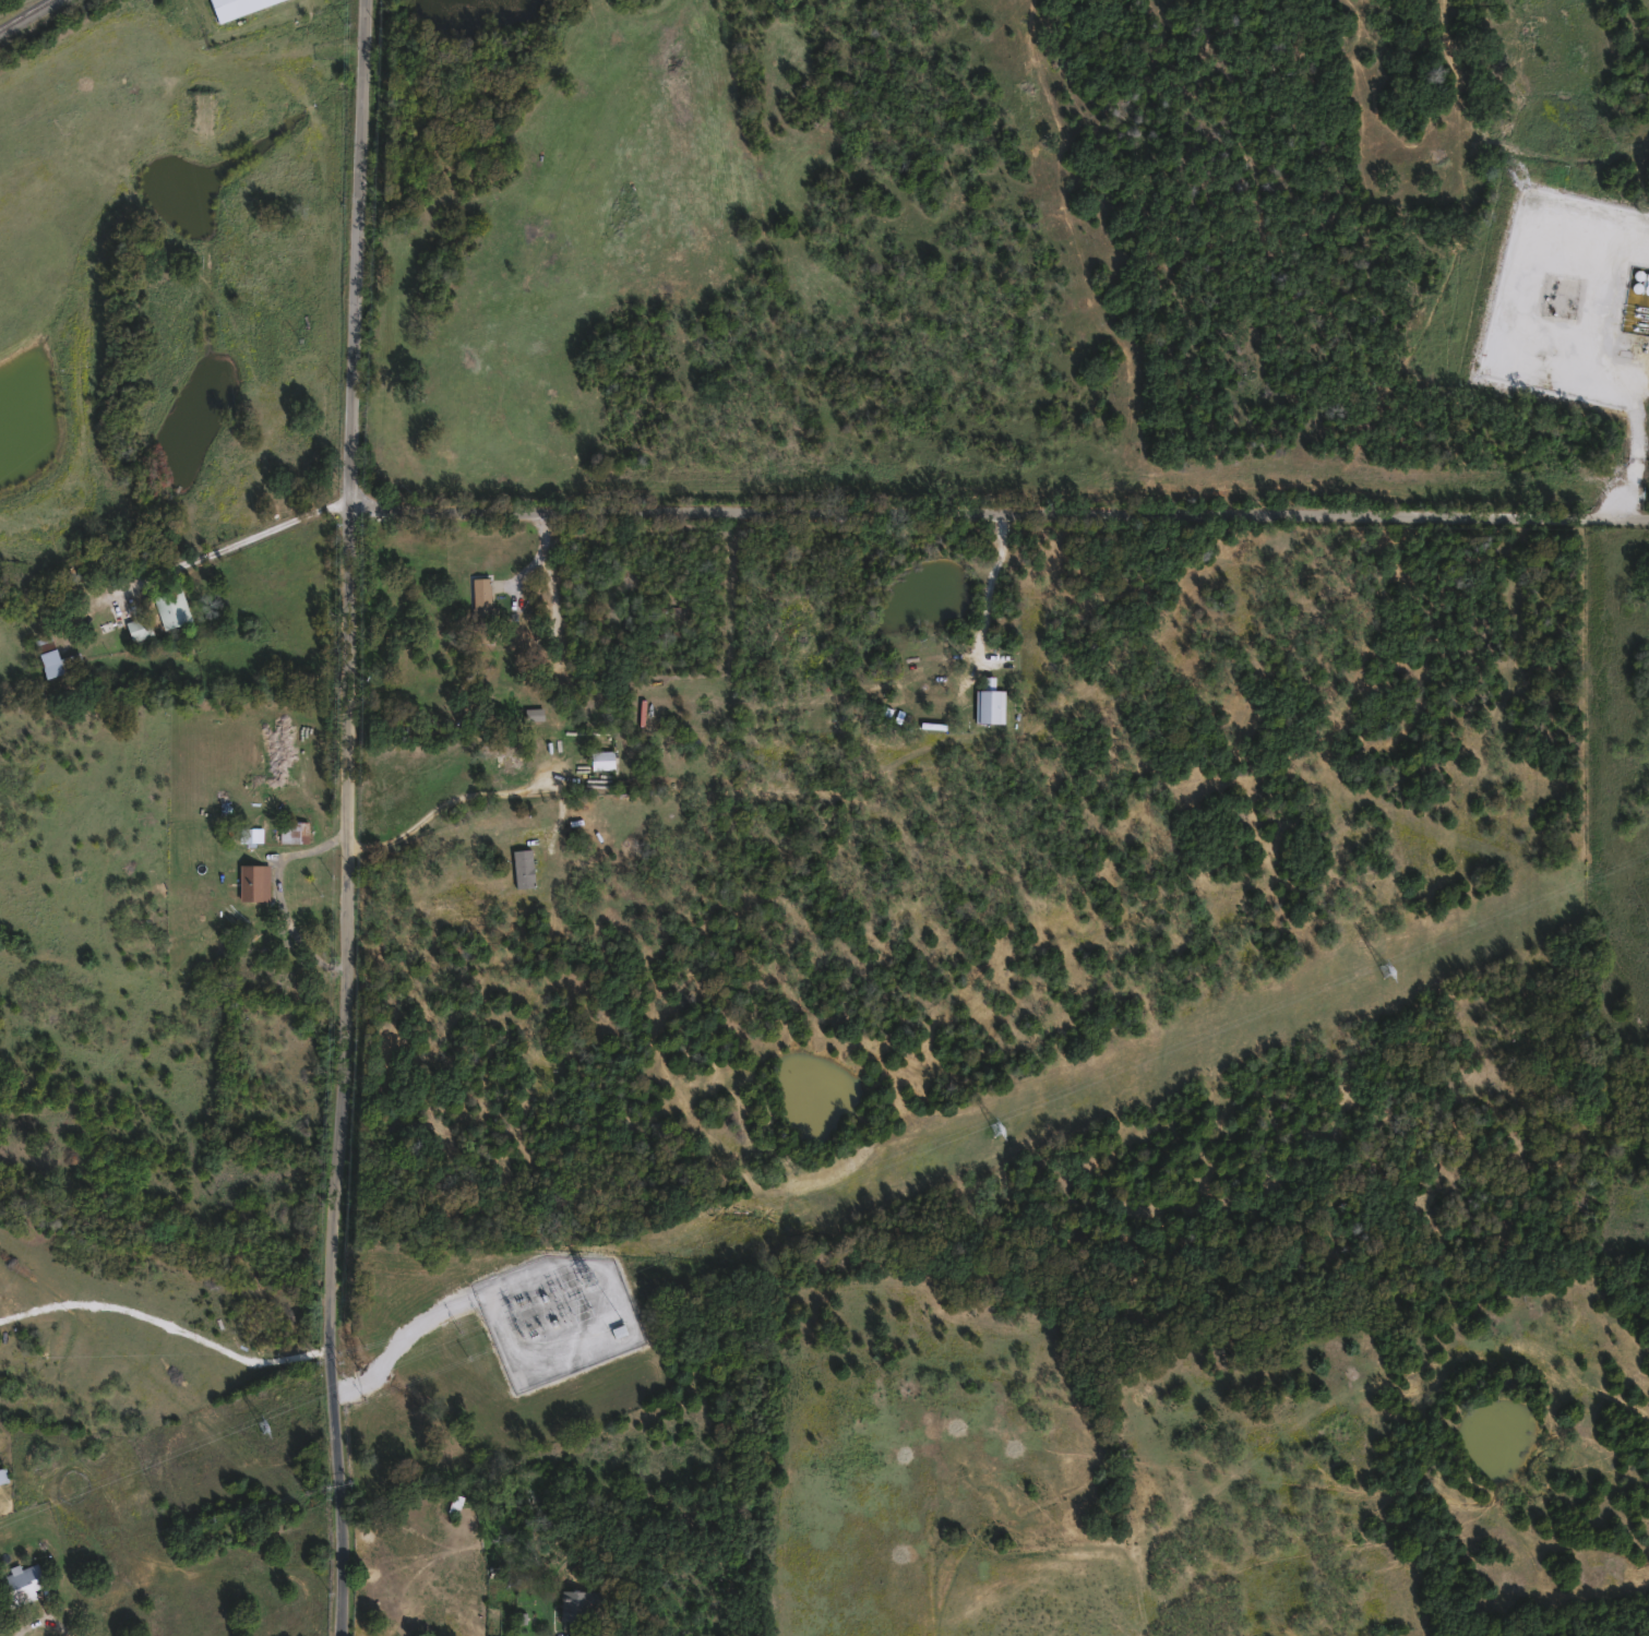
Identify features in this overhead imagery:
building: (238, 7)
railway: (22, 12)
building: (1565, 220)
road: (1002, 510)
road: (249, 538)
road: (539, 557)
road: (993, 586)
building: (482, 597)
building: (174, 608)
building: (141, 628)
building: (53, 656)
building: (503, 753)
building: (604, 759)
road: (454, 795)
road: (354, 817)
building: (296, 831)
building: (249, 835)
building: (525, 867)
building: (255, 881)
power tower: (1386, 968)
power tower: (996, 1127)
power tower: (597, 1276)
power substation: (557, 1315)
road: (170, 1323)
power tower: (264, 1425)
building: (3, 1473)
building: (456, 1503)
building: (22, 1584)
building: (584, 1603)
road: (43, 1616)
building: (587, 1634)

